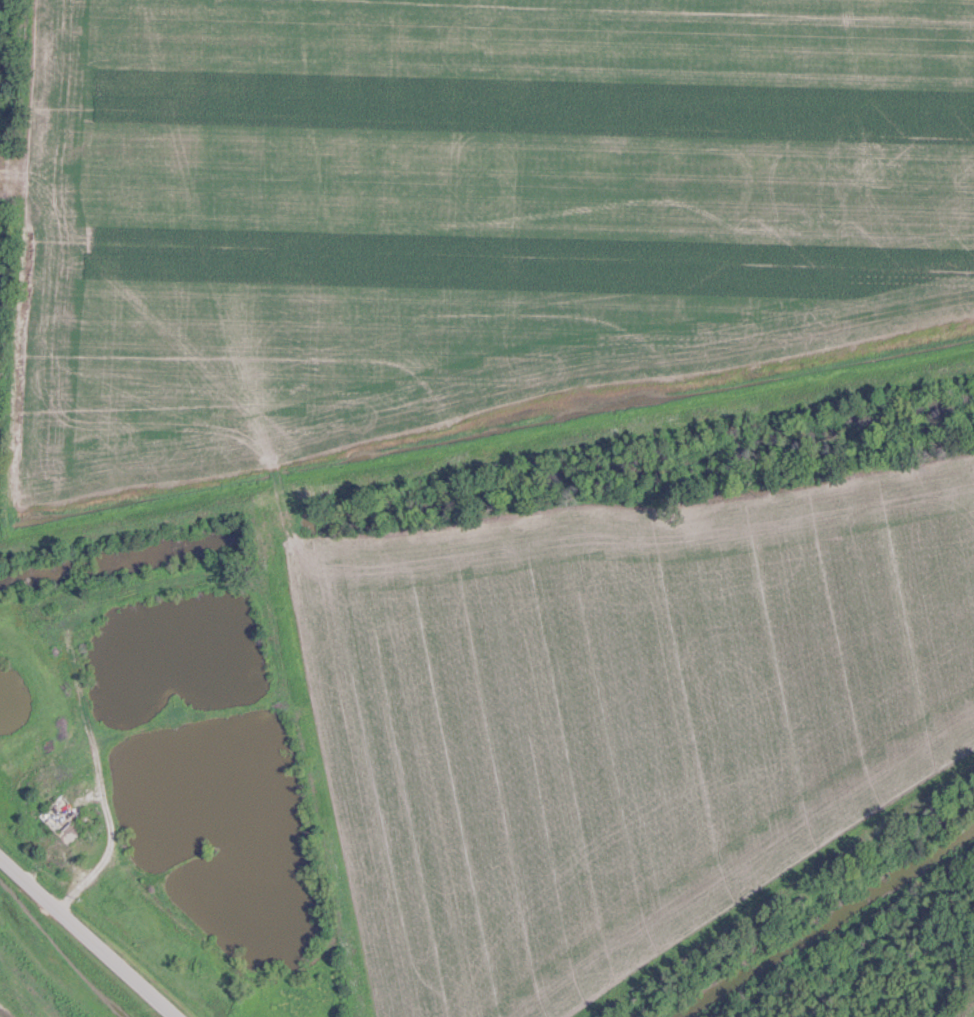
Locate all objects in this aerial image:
road: (57, 853)
road: (102, 858)
road: (89, 936)

